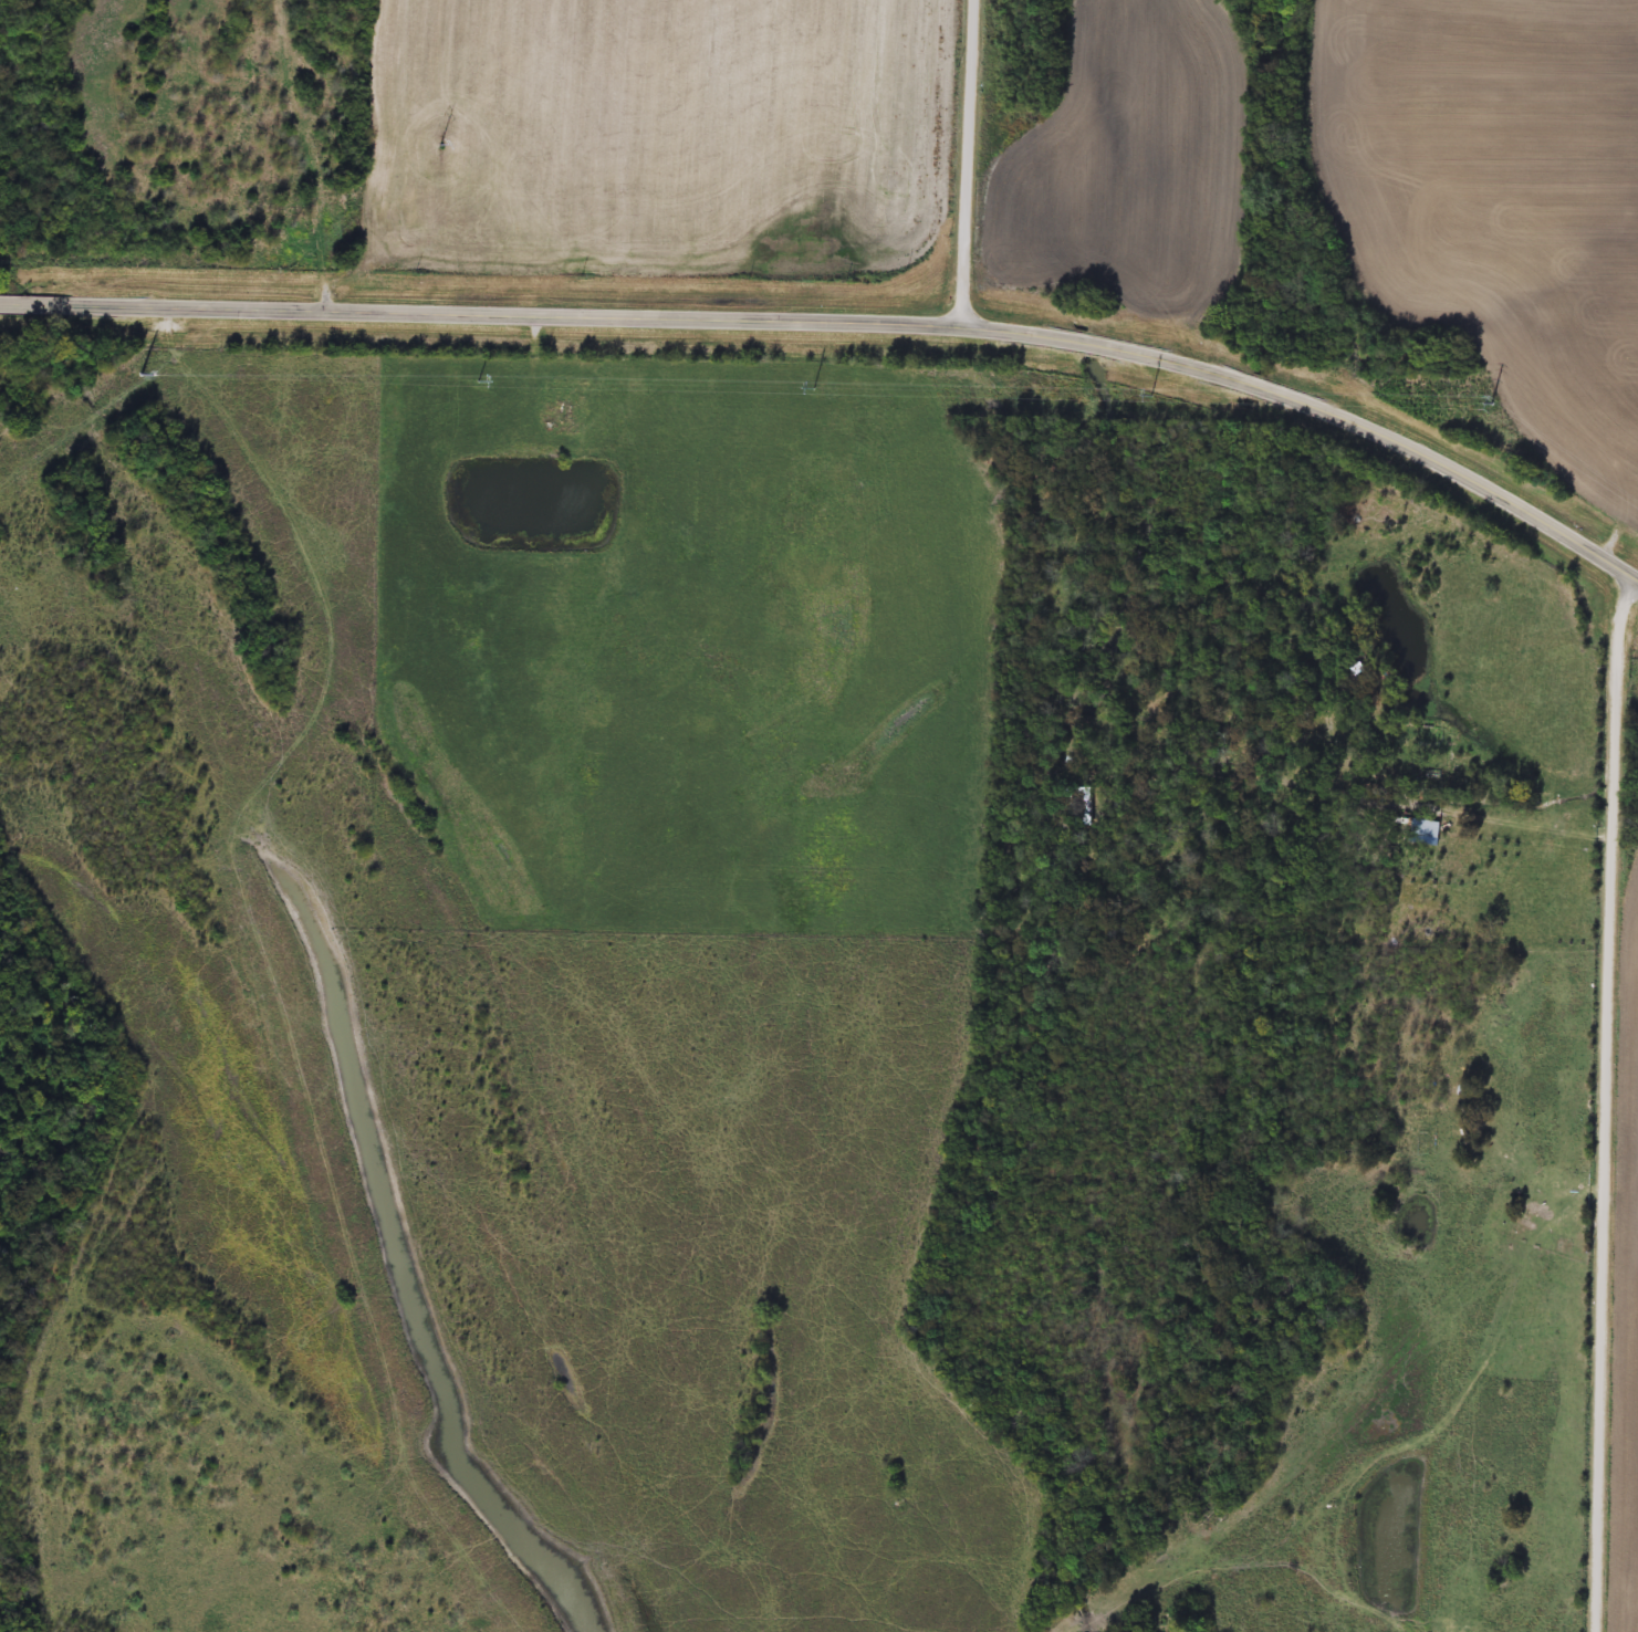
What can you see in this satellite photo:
power tower: (460, 147)
road: (967, 160)
road: (846, 322)
power tower: (144, 376)
building: (135, 521)
road: (1604, 690)
road: (1586, 1221)

